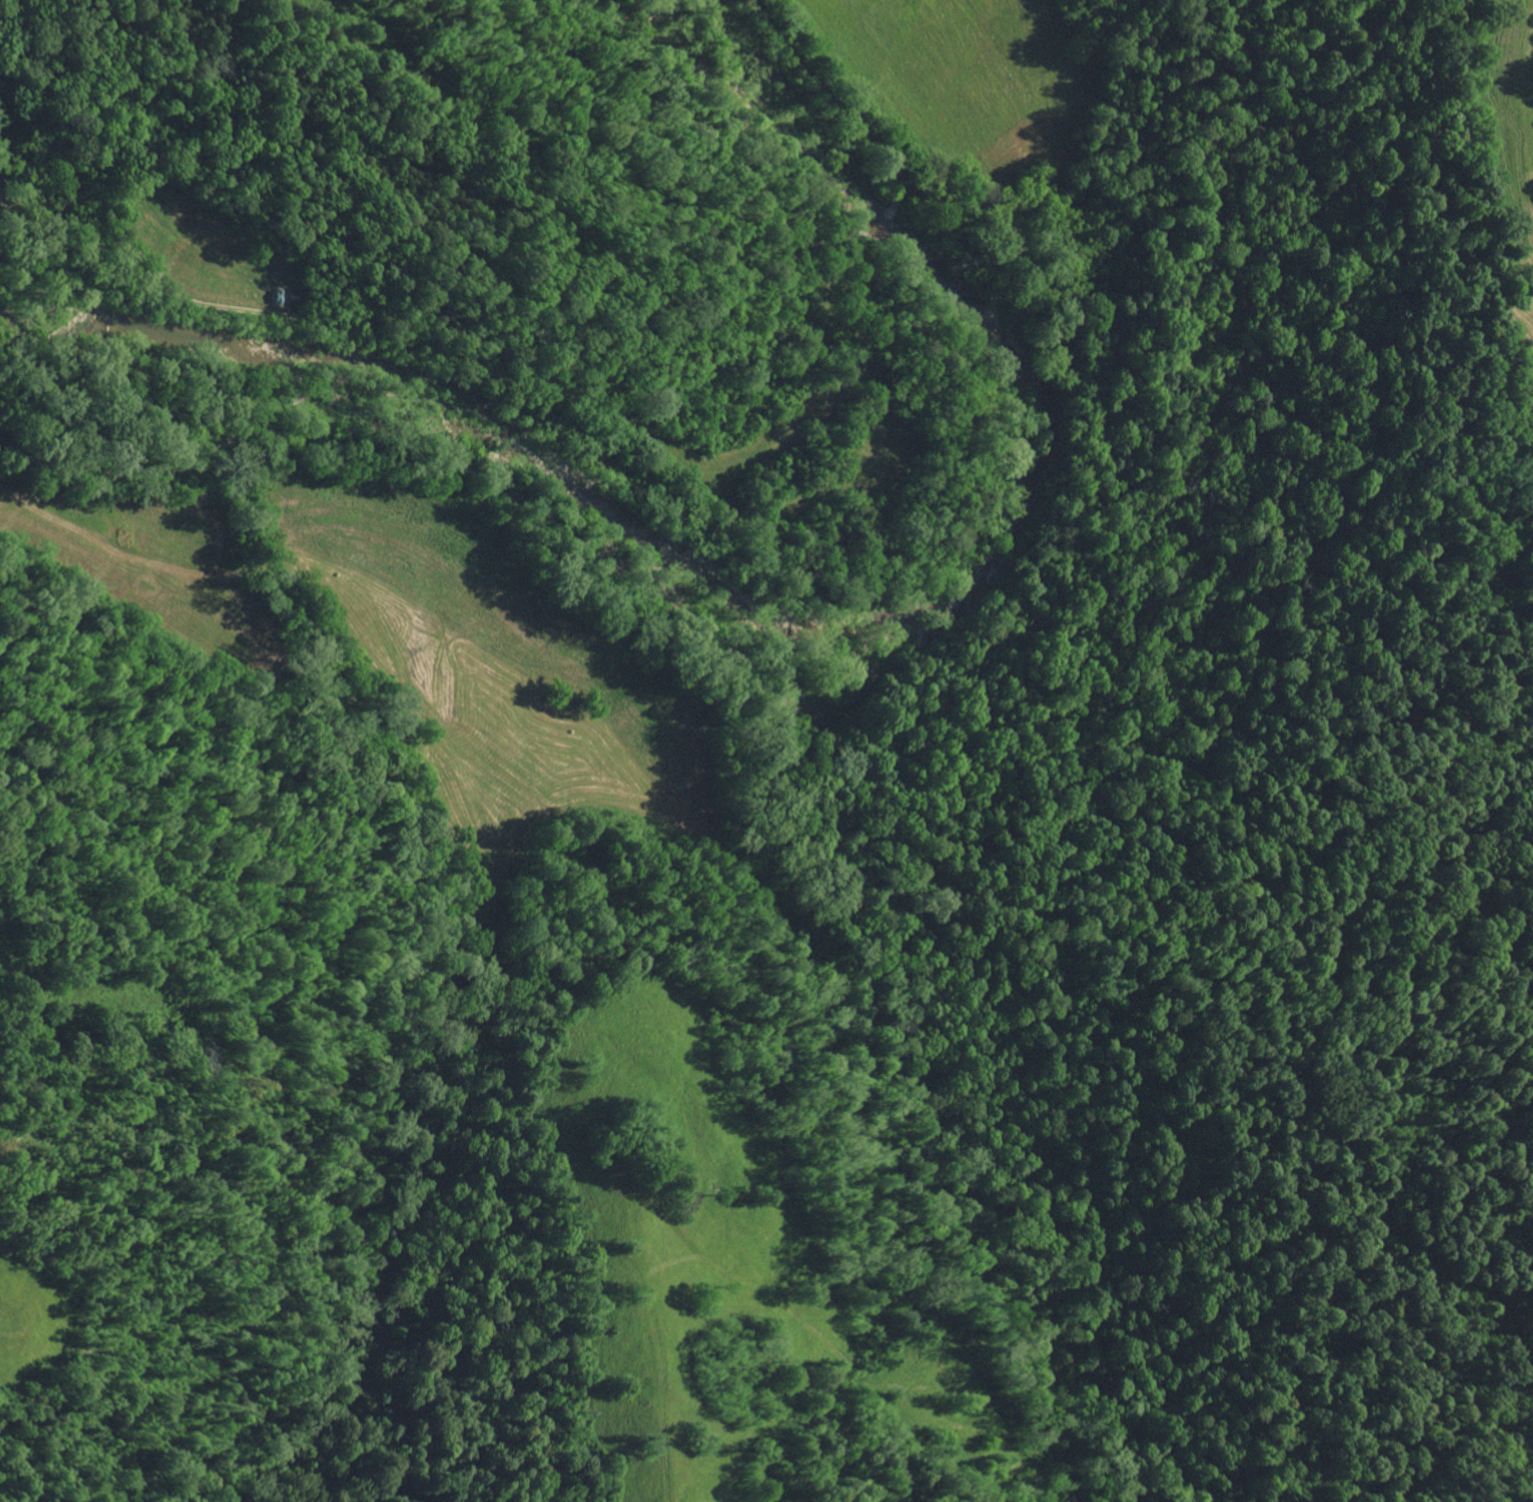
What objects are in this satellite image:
road: (532, 364)

